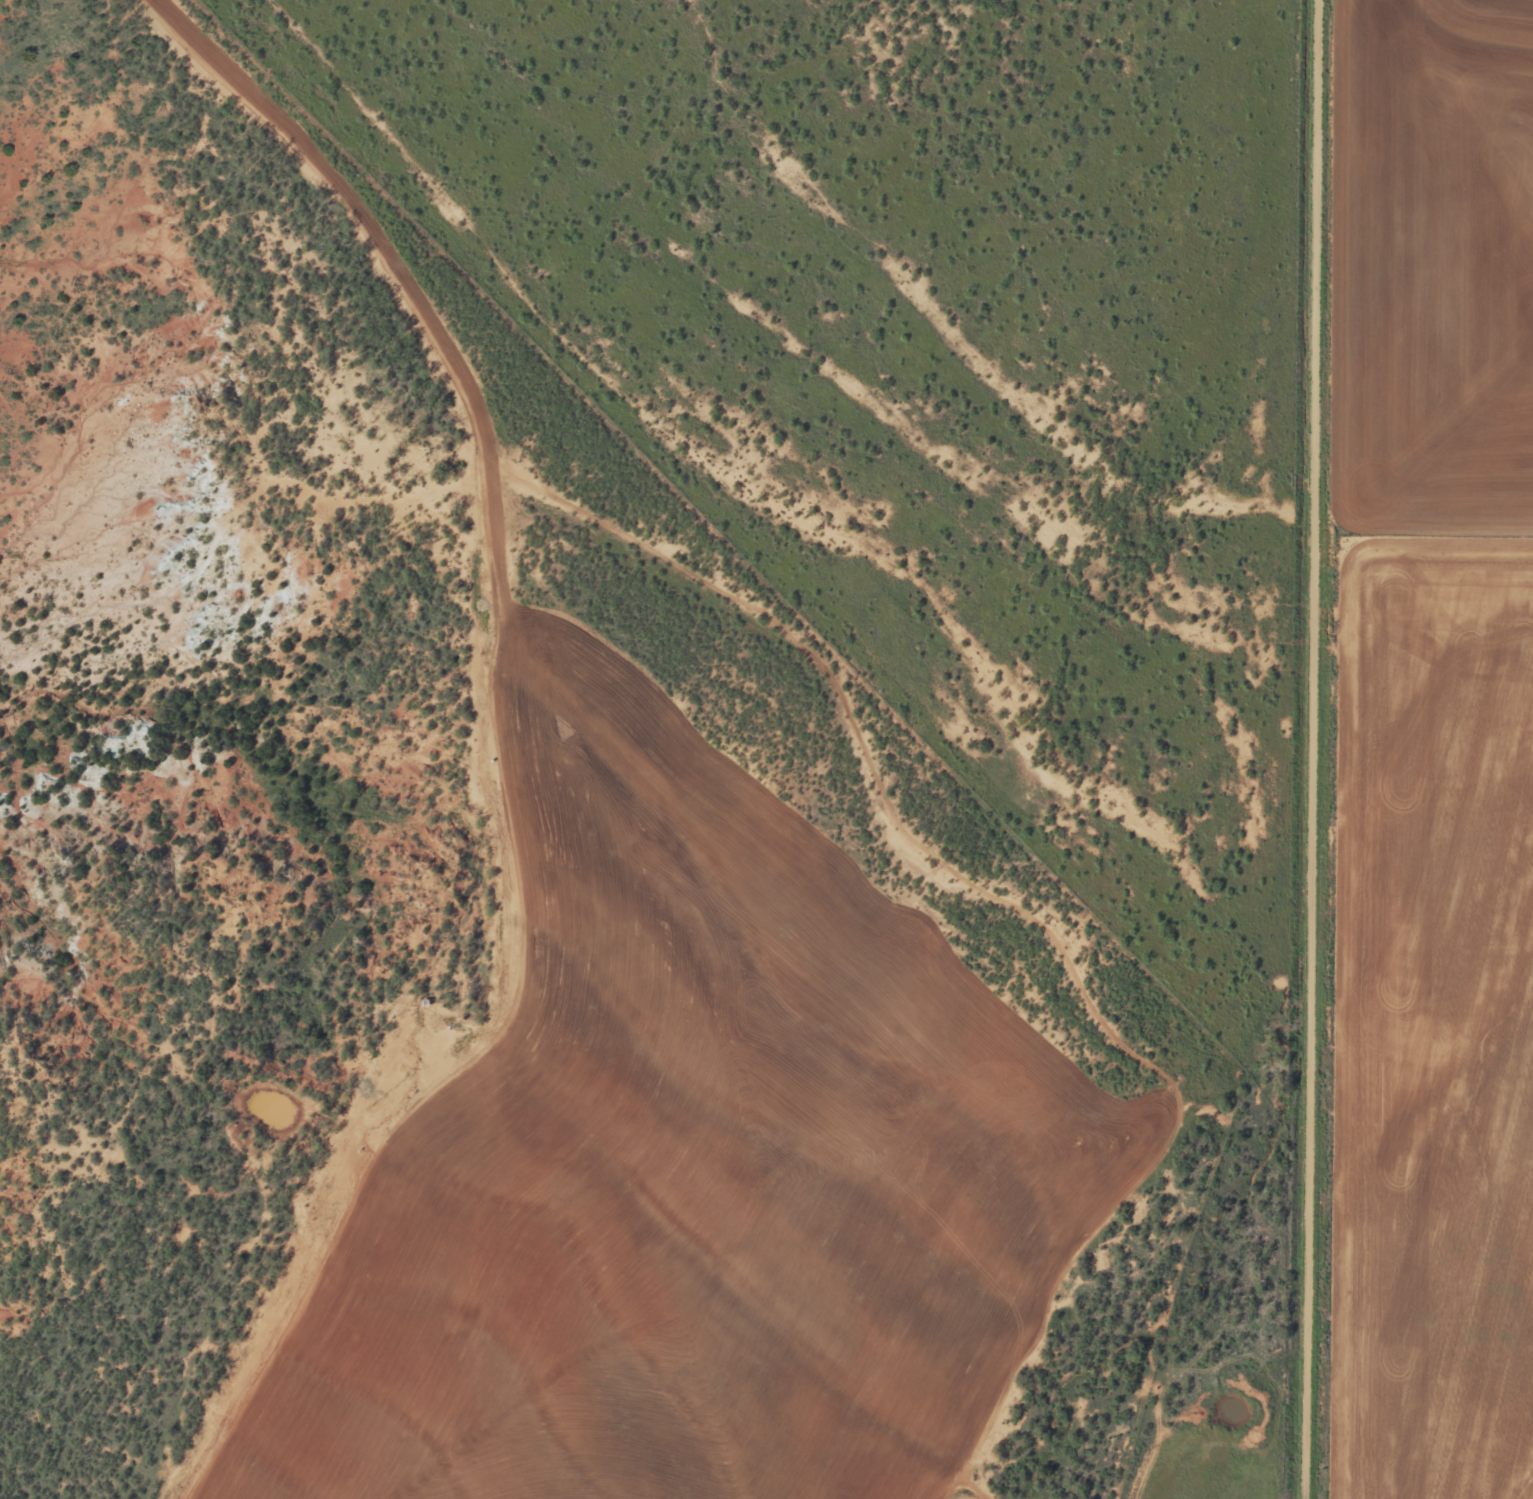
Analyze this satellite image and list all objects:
road: (1316, 749)

